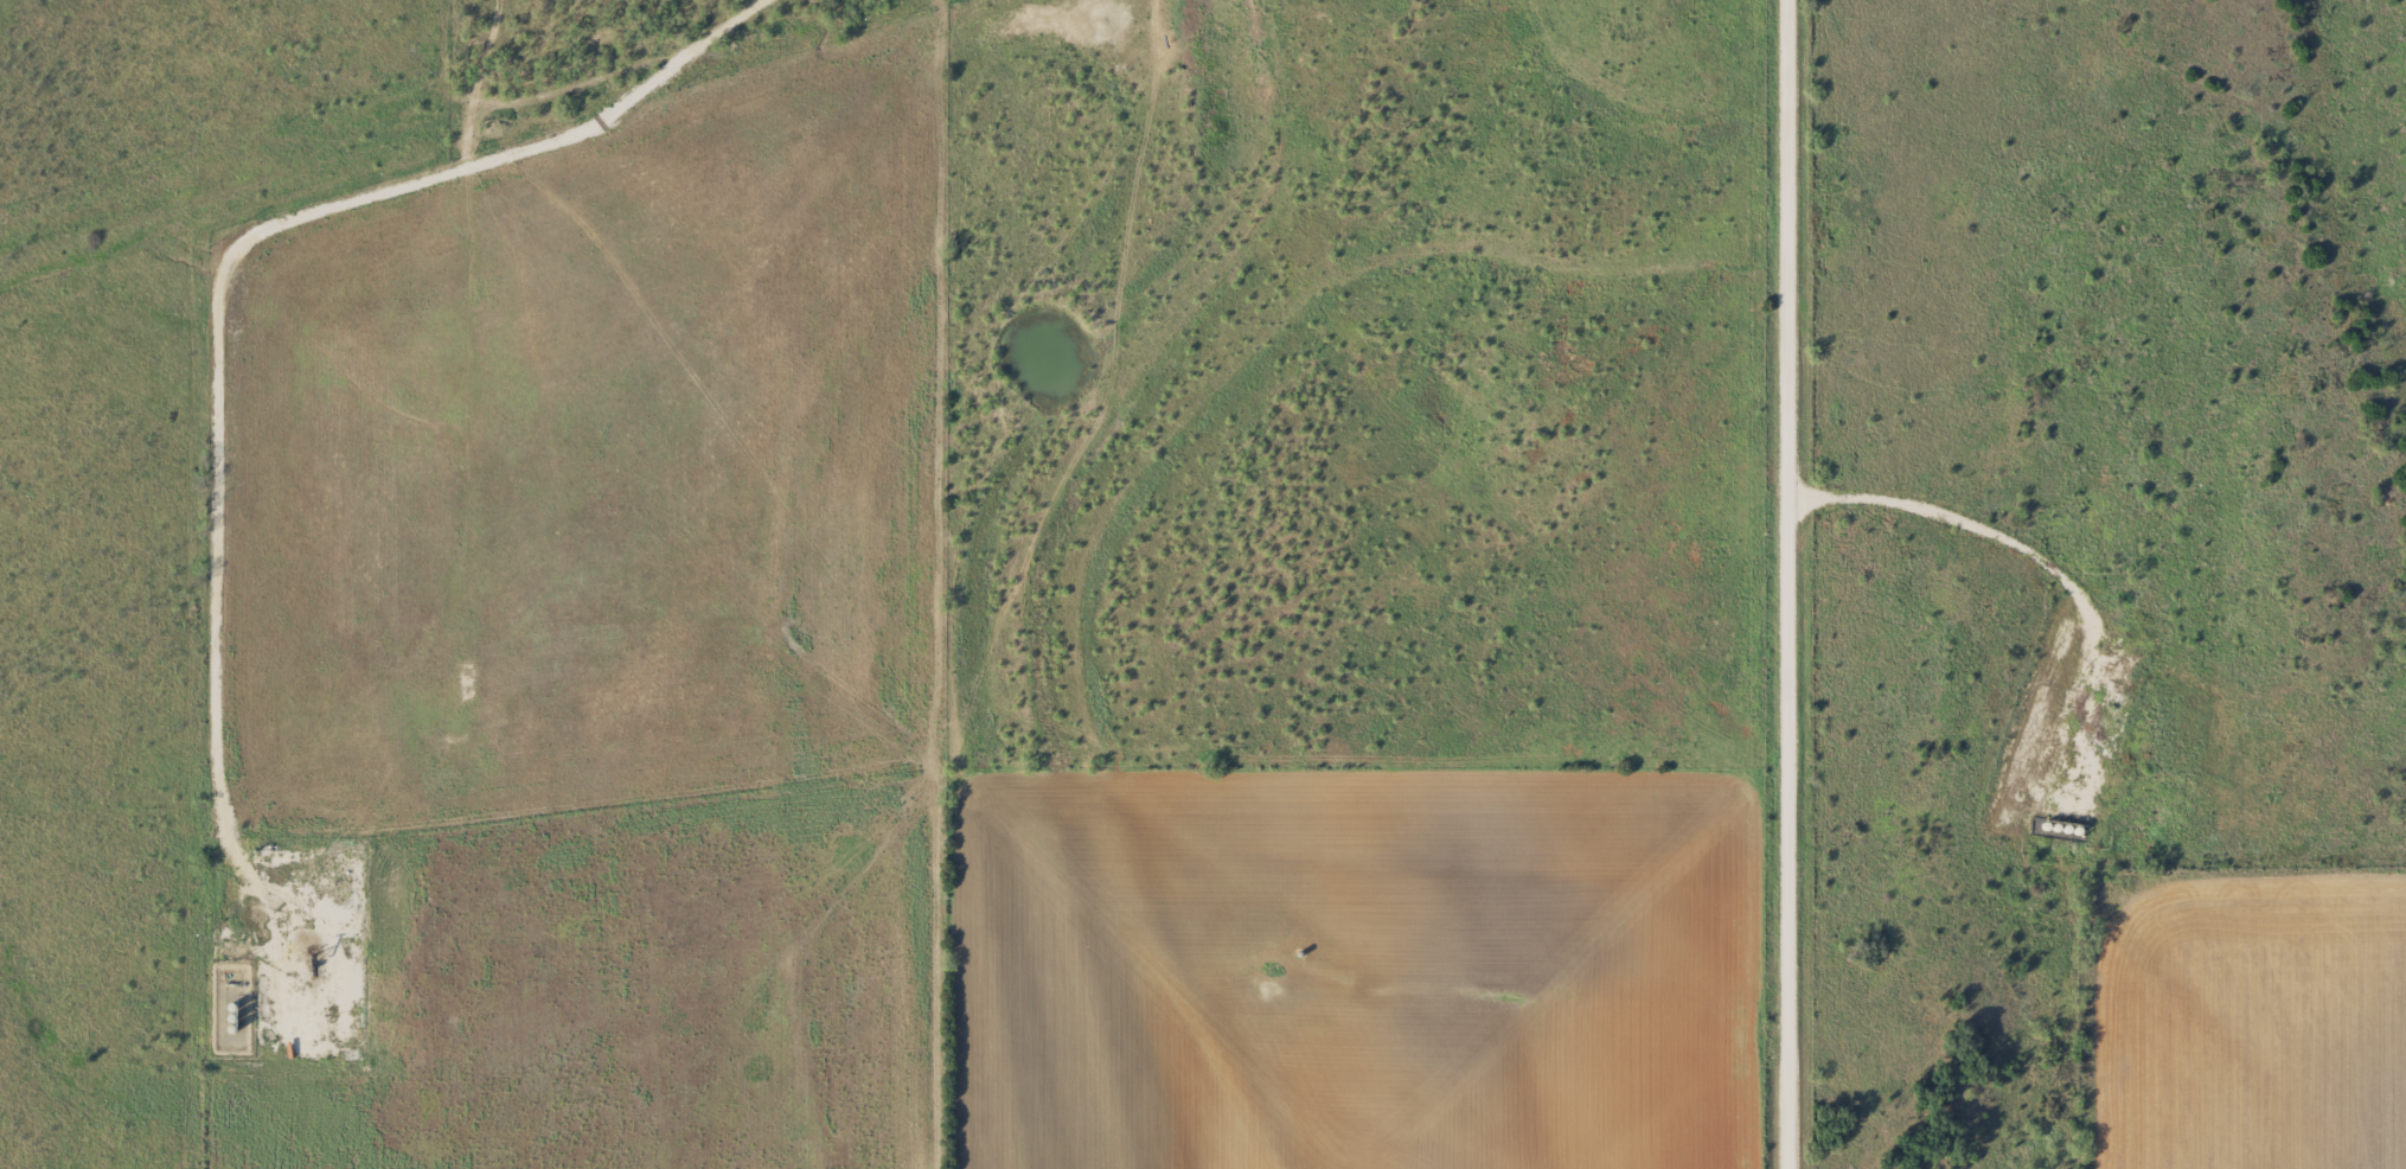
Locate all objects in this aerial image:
railway: (448, 136)
road: (1785, 583)

